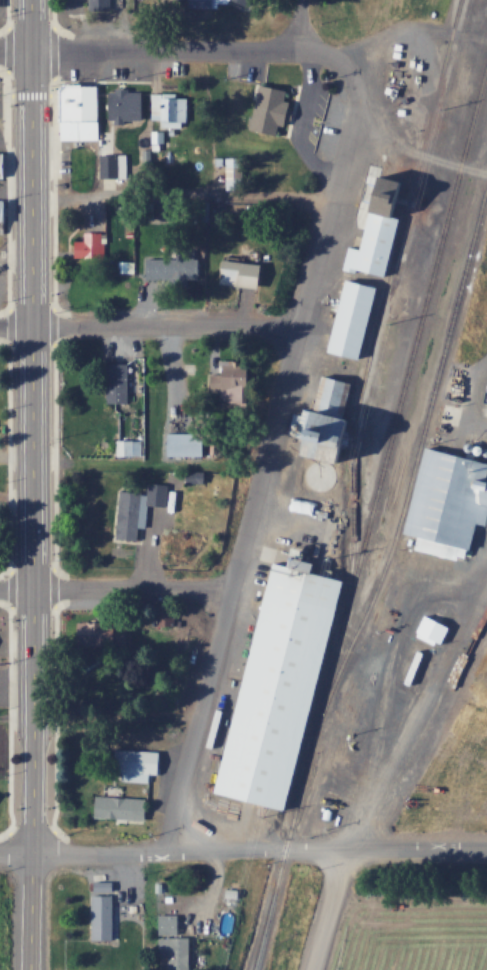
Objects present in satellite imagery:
building: (0, 1)
building: (250, 1)
building: (205, 3)
building: (101, 5)
road: (302, 23)
road: (180, 47)
building: (127, 104)
building: (275, 106)
building: (82, 108)
building: (172, 109)
road: (416, 154)
building: (110, 165)
building: (3, 168)
building: (1, 211)
building: (382, 220)
building: (92, 245)
railway: (436, 260)
building: (178, 268)
building: (247, 273)
railway: (383, 299)
building: (356, 314)
road: (155, 325)
building: (119, 382)
building: (238, 383)
building: (333, 417)
road: (34, 425)
building: (189, 443)
road: (281, 453)
railway: (418, 455)
building: (454, 498)
building: (139, 508)
road: (122, 586)
building: (169, 616)
building: (436, 630)
building: (106, 634)
building: (280, 684)
railway: (319, 713)
building: (138, 764)
road: (371, 767)
building: (122, 808)
road: (243, 850)
road: (32, 911)
building: (104, 911)
building: (170, 923)
crop: (406, 928)
building: (178, 951)

